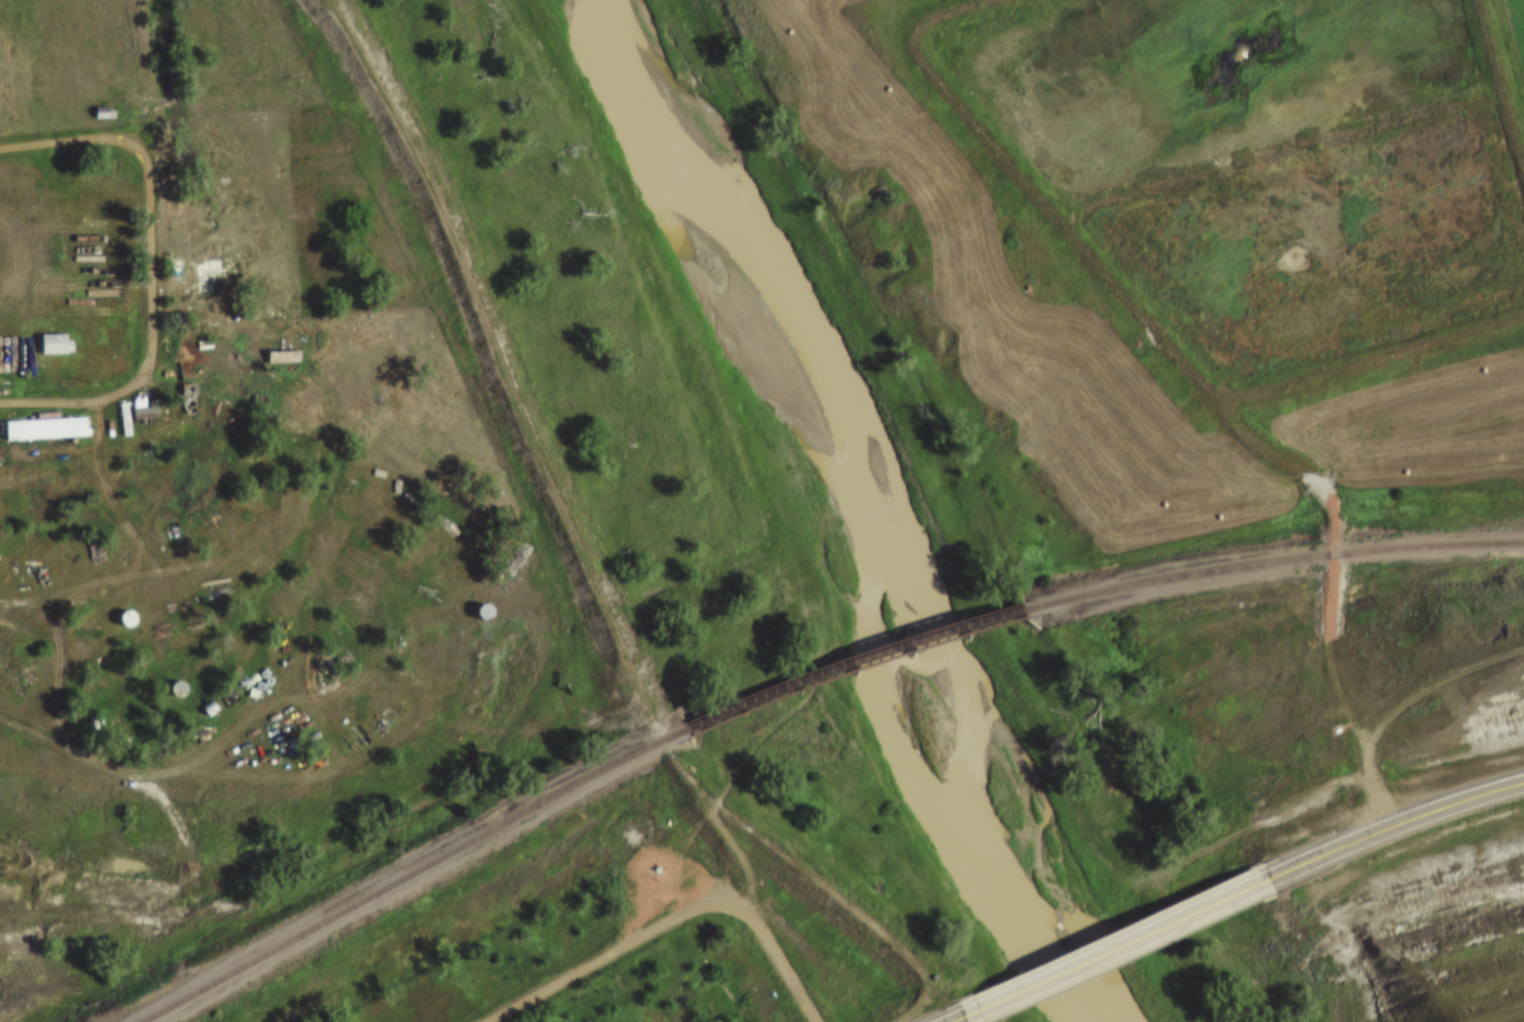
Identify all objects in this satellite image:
road: (1503, 74)
building: (97, 99)
building: (105, 112)
road: (64, 141)
road: (1042, 199)
building: (100, 214)
road: (148, 247)
building: (204, 257)
building: (49, 330)
building: (276, 343)
building: (56, 345)
road: (1372, 358)
building: (181, 376)
road: (81, 399)
building: (139, 399)
building: (142, 412)
building: (40, 415)
building: (47, 430)
river: (880, 503)
railway: (1268, 561)
road: (1332, 590)
building: (475, 599)
silo: (475, 599)
building: (119, 605)
silo: (119, 605)
railway: (906, 634)
building: (170, 676)
silo: (170, 676)
road: (93, 770)
road: (1398, 822)
railway: (471, 843)
road: (1198, 906)
road: (608, 955)
road: (778, 961)
road: (1051, 973)
road: (961, 1014)

